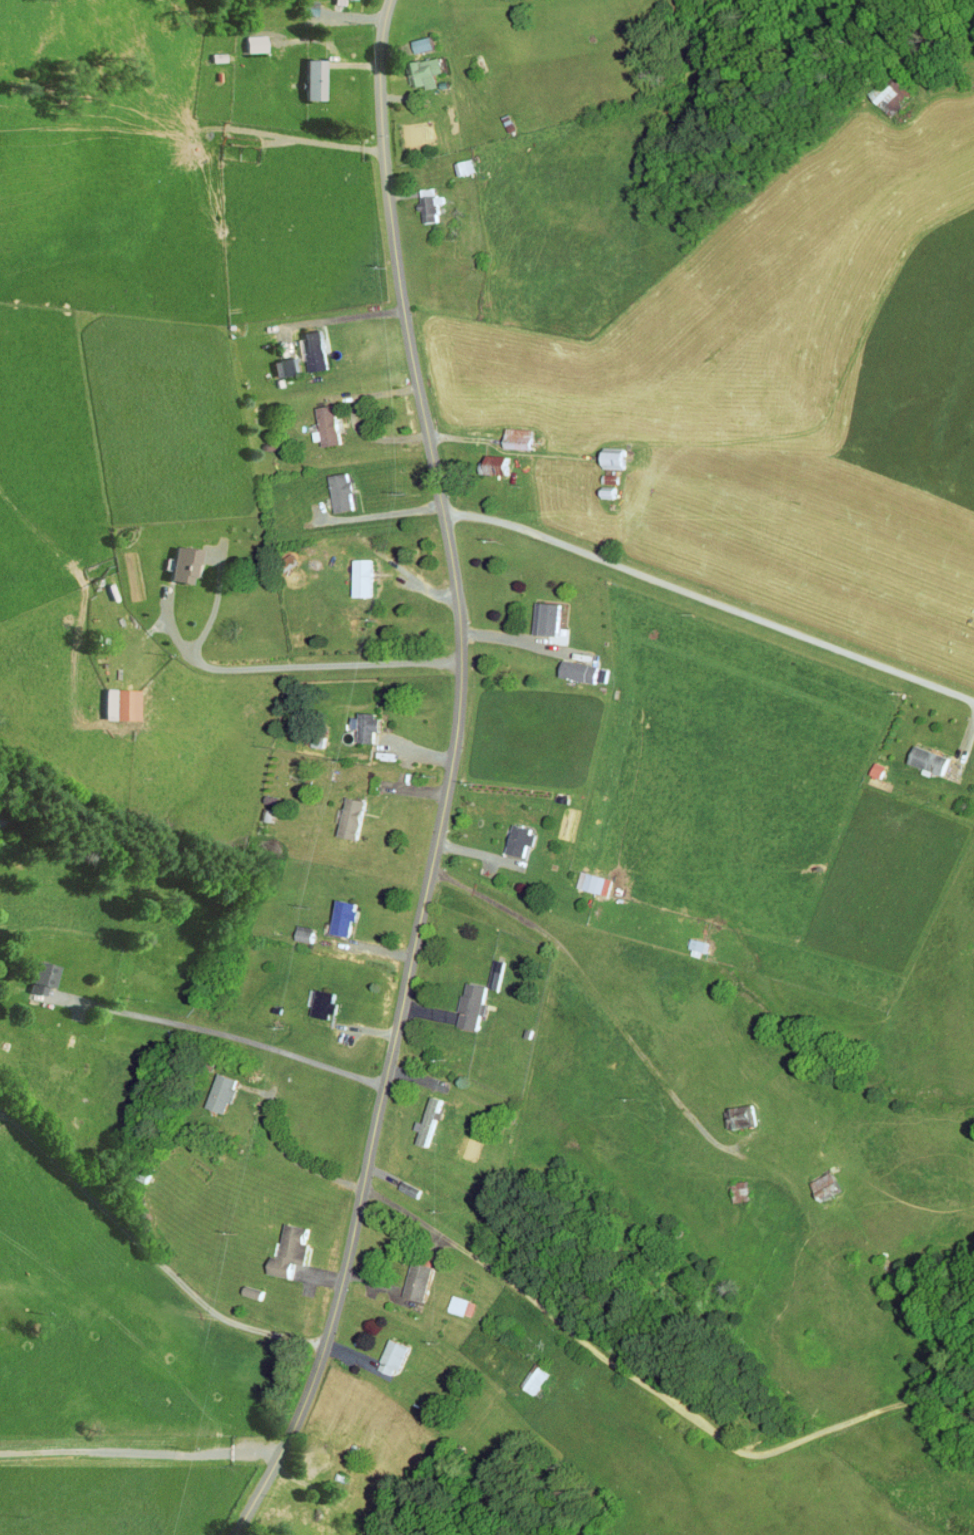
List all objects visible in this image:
road: (310, 141)
road: (542, 429)
road: (710, 600)
road: (522, 642)
road: (296, 666)
road: (449, 780)
road: (597, 996)
road: (234, 1038)
road: (285, 1152)
road: (150, 1252)
road: (652, 1388)

